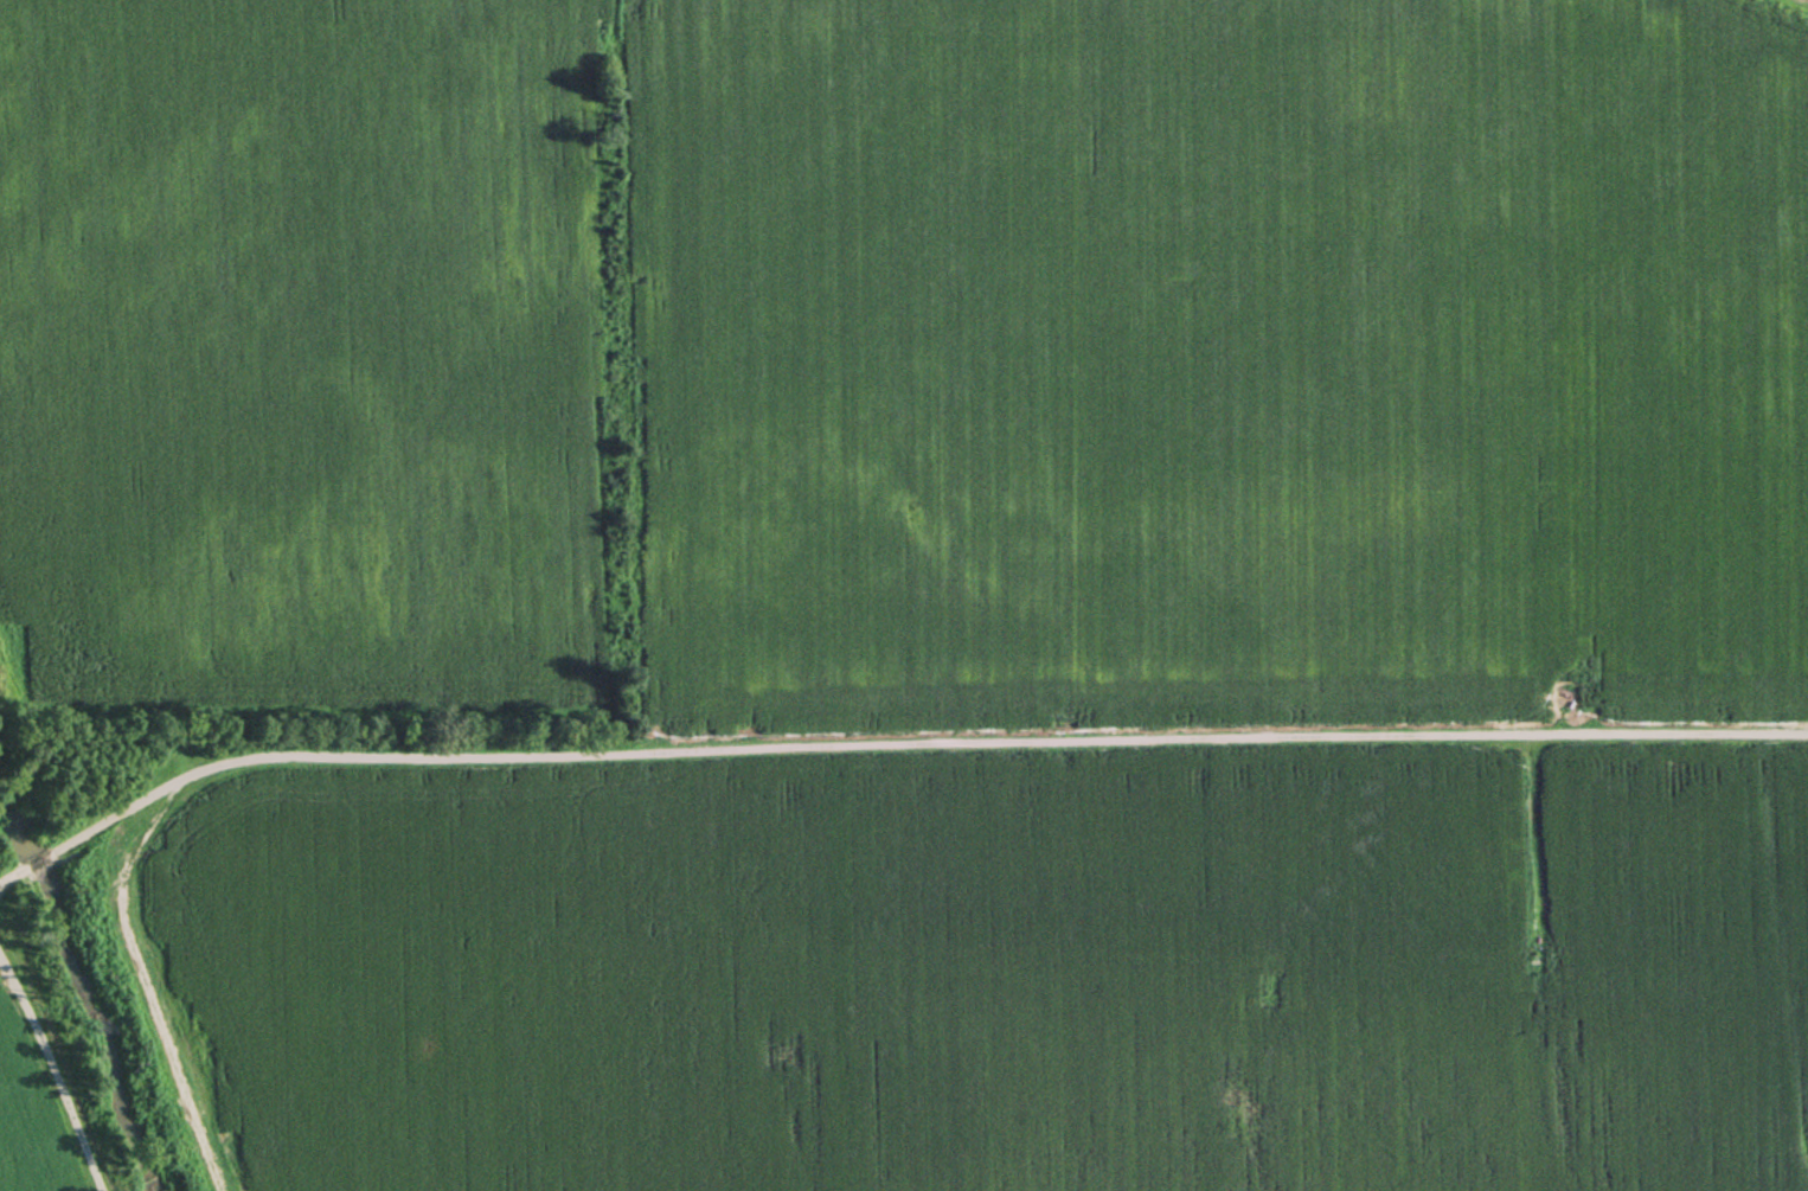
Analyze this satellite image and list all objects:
road: (724, 744)

